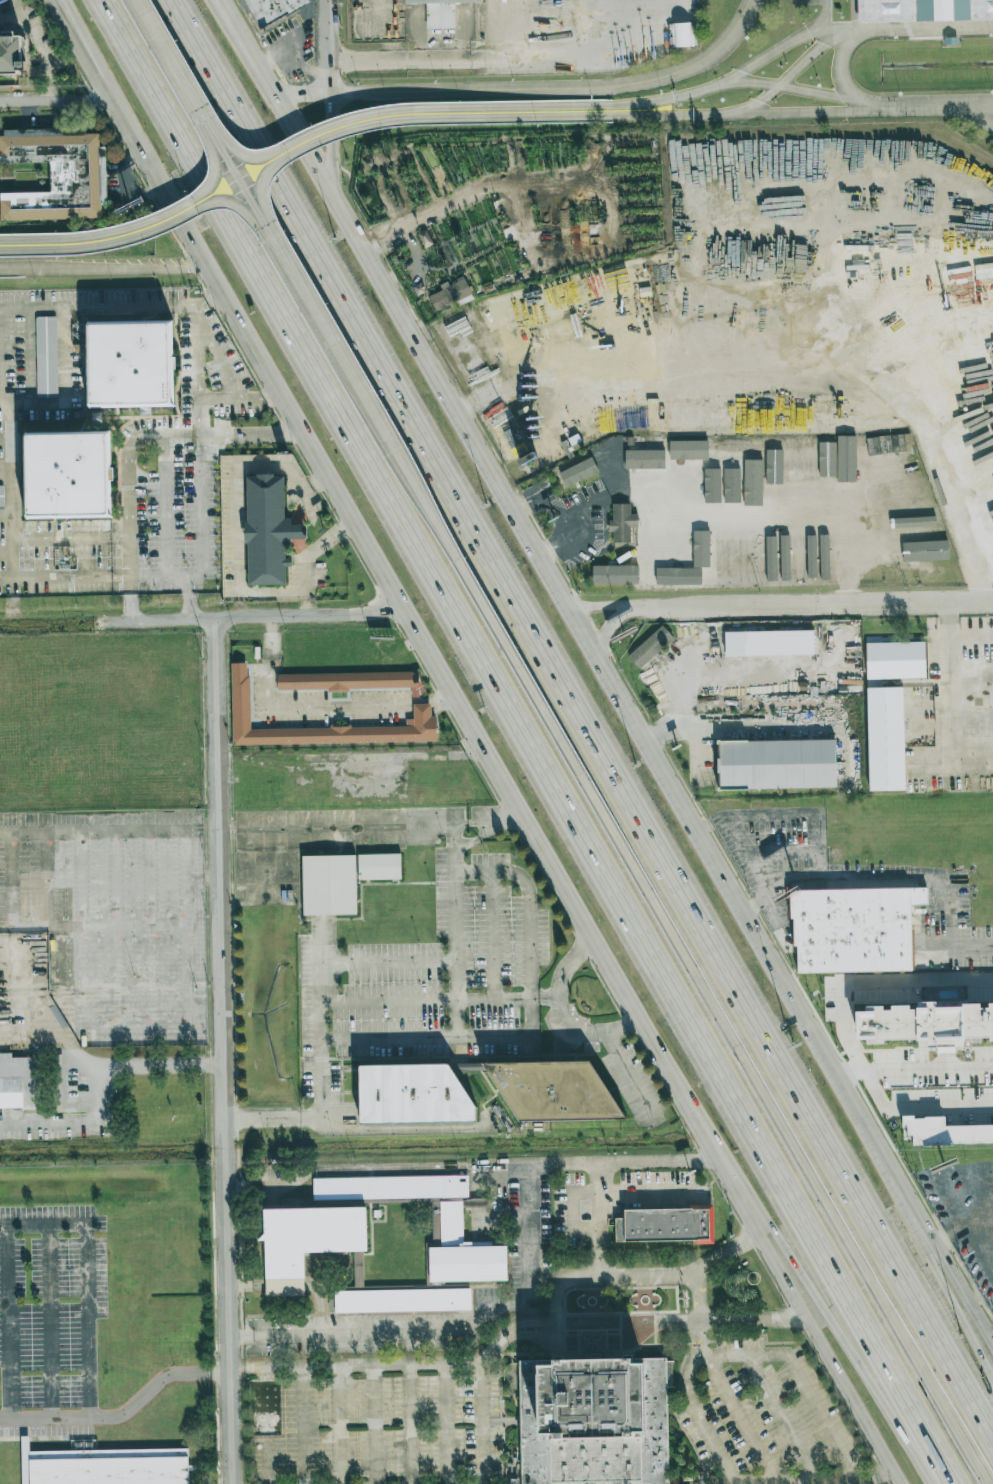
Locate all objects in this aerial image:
road: (852, 8)
road: (925, 8)
building: (272, 9)
building: (924, 10)
building: (439, 12)
road: (59, 13)
road: (61, 13)
road: (9, 14)
road: (383, 15)
road: (825, 15)
road: (501, 29)
road: (934, 29)
road: (850, 30)
building: (682, 34)
road: (329, 47)
building: (10, 49)
road: (40, 49)
road: (775, 53)
road: (561, 55)
road: (167, 56)
road: (292, 57)
road: (842, 58)
road: (400, 60)
road: (804, 60)
road: (753, 85)
road: (534, 87)
road: (815, 94)
road: (671, 98)
road: (53, 102)
road: (754, 105)
road: (874, 105)
road: (984, 108)
road: (392, 109)
road: (936, 109)
road: (812, 113)
road: (669, 115)
road: (984, 117)
road: (405, 119)
road: (331, 143)
road: (232, 169)
building: (57, 174)
road: (146, 222)
road: (138, 234)
road: (101, 266)
building: (450, 293)
road: (216, 353)
building: (45, 356)
building: (128, 364)
road: (198, 366)
road: (352, 376)
road: (272, 395)
road: (222, 398)
road: (253, 398)
road: (61, 409)
road: (202, 417)
road: (148, 435)
building: (688, 450)
building: (730, 450)
building: (756, 454)
building: (776, 457)
building: (846, 458)
building: (644, 459)
building: (578, 472)
road: (6, 474)
building: (67, 474)
building: (1, 497)
building: (730, 500)
road: (525, 502)
road: (165, 505)
road: (549, 507)
road: (580, 507)
road: (6, 515)
building: (622, 523)
road: (567, 527)
road: (749, 527)
building: (269, 532)
road: (201, 534)
road: (555, 547)
building: (701, 549)
road: (371, 550)
building: (717, 555)
building: (730, 556)
building: (811, 556)
building: (770, 558)
building: (784, 558)
building: (755, 559)
building: (824, 560)
road: (239, 561)
road: (543, 561)
building: (615, 575)
road: (159, 576)
building: (678, 576)
road: (132, 598)
road: (305, 603)
road: (812, 603)
road: (600, 609)
road: (209, 619)
road: (6, 624)
road: (607, 626)
building: (768, 643)
building: (650, 647)
building: (895, 660)
road: (729, 672)
road: (951, 679)
building: (329, 688)
road: (587, 709)
road: (316, 714)
building: (885, 739)
road: (524, 742)
building: (777, 764)
road: (369, 825)
road: (820, 834)
road: (475, 838)
road: (184, 841)
building: (378, 867)
road: (937, 877)
road: (47, 879)
road: (8, 880)
road: (367, 883)
building: (329, 885)
road: (528, 920)
parking lot: (114, 922)
road: (40, 926)
road: (452, 930)
building: (854, 931)
road: (149, 934)
road: (118, 935)
road: (80, 936)
road: (493, 936)
road: (387, 964)
road: (868, 982)
building: (989, 990)
building: (887, 992)
building: (964, 992)
road: (438, 1000)
road: (715, 1005)
road: (321, 1017)
road: (560, 1017)
building: (933, 1023)
road: (425, 1037)
road: (135, 1038)
road: (223, 1051)
road: (913, 1070)
road: (96, 1076)
road: (631, 1079)
building: (557, 1083)
building: (19, 1084)
building: (412, 1093)
road: (917, 1109)
road: (357, 1129)
building: (945, 1132)
road: (658, 1164)
road: (538, 1166)
road: (408, 1168)
road: (322, 1170)
road: (269, 1184)
road: (600, 1193)
road: (540, 1218)
road: (490, 1220)
road: (597, 1220)
building: (664, 1227)
road: (509, 1228)
road: (929, 1233)
building: (317, 1248)
road: (929, 1249)
road: (571, 1279)
road: (807, 1279)
road: (787, 1280)
road: (508, 1293)
road: (697, 1301)
road: (520, 1333)
road: (346, 1337)
road: (496, 1341)
road: (393, 1366)
road: (114, 1369)
road: (799, 1375)
parking lot: (47, 1395)
parking lot: (763, 1409)
parking lot: (360, 1418)
road: (741, 1418)
road: (782, 1418)
road: (70, 1419)
road: (489, 1419)
building: (594, 1423)
road: (704, 1431)
building: (110, 1467)
road: (726, 1482)

